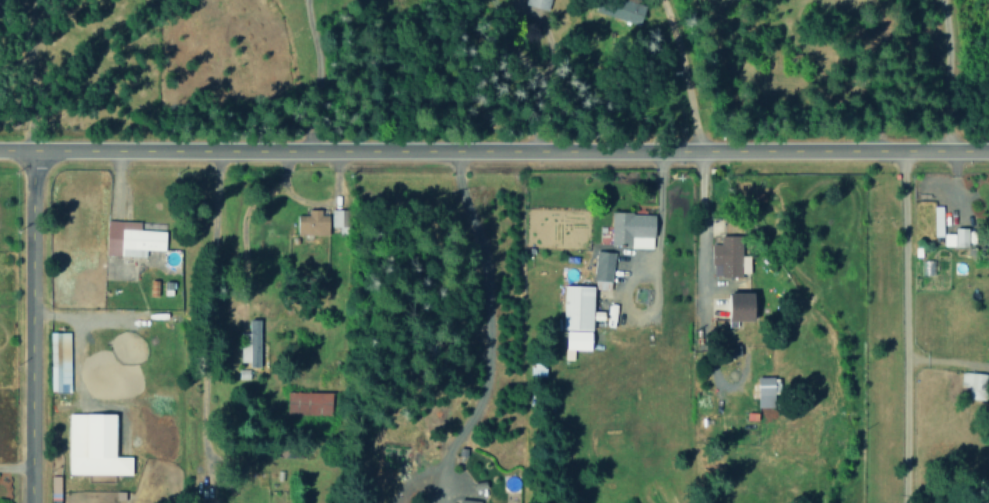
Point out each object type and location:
building: (538, 3)
building: (621, 9)
road: (946, 76)
road: (684, 77)
road: (494, 153)
building: (339, 217)
building: (313, 223)
building: (633, 229)
building: (961, 237)
building: (131, 239)
building: (949, 239)
building: (730, 257)
building: (603, 266)
road: (652, 285)
building: (744, 306)
road: (201, 307)
building: (577, 308)
road: (905, 328)
road: (28, 330)
building: (575, 341)
building: (251, 344)
building: (60, 361)
building: (537, 368)
building: (974, 384)
building: (767, 391)
building: (309, 403)
building: (95, 446)
building: (468, 501)

